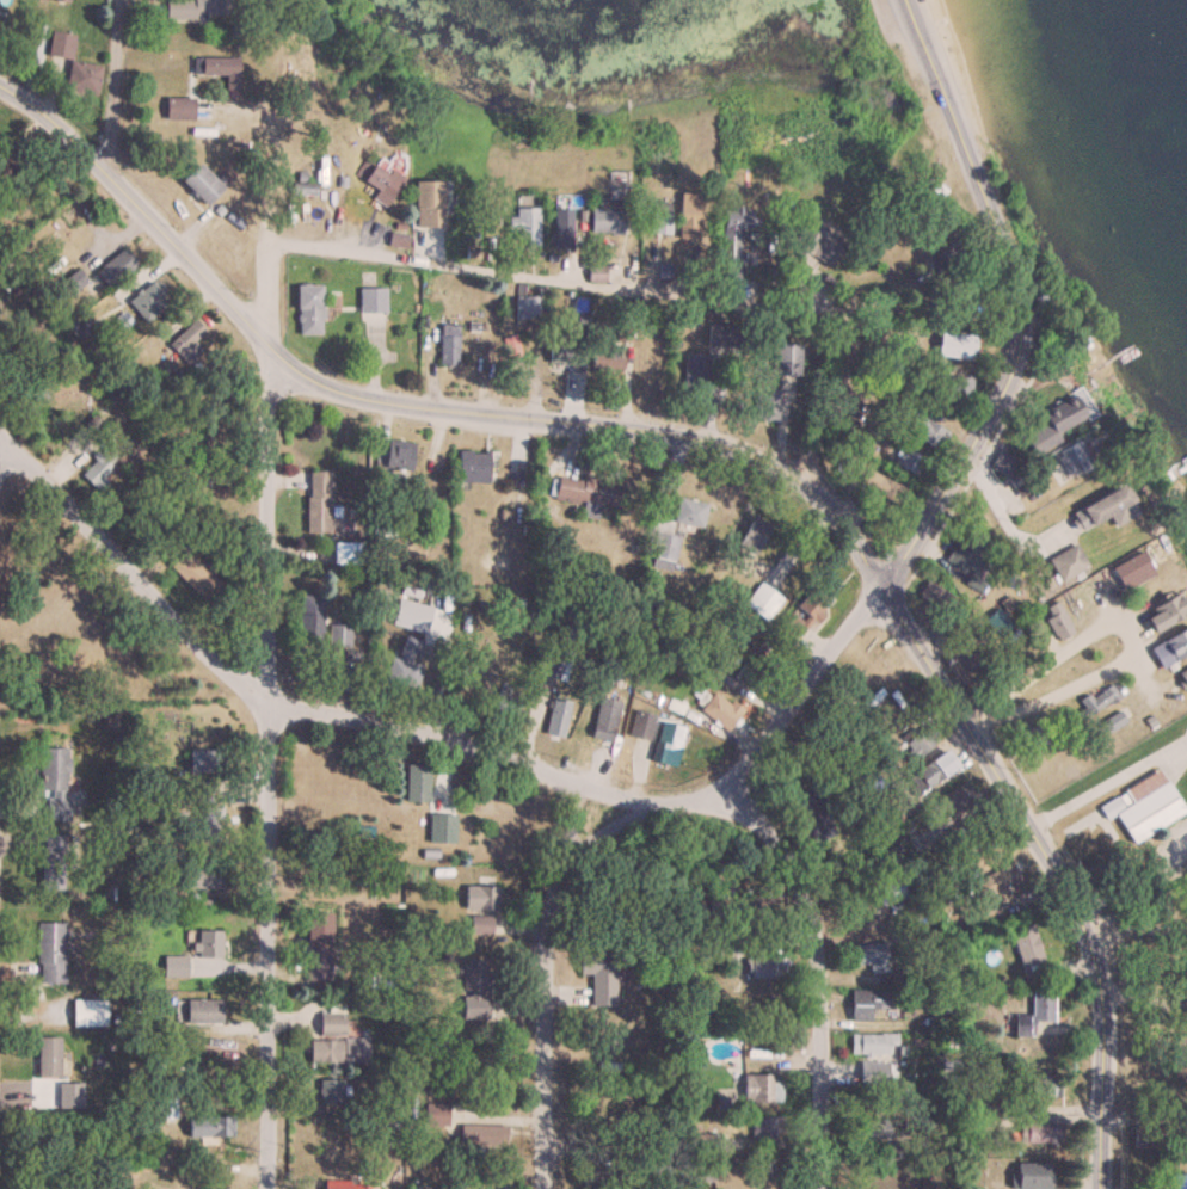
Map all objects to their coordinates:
building: (190, 8)
building: (1, 24)
building: (61, 44)
building: (220, 69)
building: (82, 76)
road: (109, 90)
building: (178, 107)
building: (377, 179)
building: (199, 184)
building: (430, 203)
building: (688, 215)
building: (607, 216)
building: (659, 217)
building: (525, 220)
building: (312, 227)
building: (562, 228)
building: (734, 234)
road: (270, 242)
building: (817, 245)
building: (892, 254)
building: (598, 265)
building: (115, 266)
building: (794, 285)
road: (645, 289)
building: (373, 300)
road: (1016, 300)
building: (147, 302)
building: (528, 308)
building: (309, 310)
building: (623, 332)
building: (725, 334)
building: (187, 343)
building: (448, 345)
building: (953, 345)
building: (512, 346)
building: (571, 353)
building: (605, 353)
building: (788, 359)
building: (694, 380)
building: (959, 390)
building: (765, 403)
road: (412, 405)
building: (1056, 423)
building: (925, 431)
building: (1072, 458)
building: (911, 461)
building: (390, 462)
building: (473, 467)
building: (99, 469)
building: (884, 487)
building: (586, 492)
building: (318, 503)
building: (1103, 506)
building: (689, 512)
road: (1003, 519)
building: (754, 535)
building: (664, 547)
building: (345, 555)
building: (1068, 563)
building: (1130, 572)
road: (131, 573)
building: (193, 575)
building: (762, 602)
building: (802, 612)
building: (1163, 615)
building: (310, 621)
road: (1123, 624)
building: (339, 635)
building: (1169, 649)
building: (406, 663)
building: (752, 672)
building: (1182, 678)
building: (509, 700)
building: (1099, 700)
building: (720, 714)
building: (605, 716)
building: (668, 743)
building: (917, 744)
building: (203, 760)
road: (269, 768)
building: (935, 769)
road: (1107, 780)
building: (54, 783)
building: (417, 783)
road: (623, 797)
building: (957, 800)
building: (1143, 806)
building: (210, 823)
building: (363, 831)
building: (431, 842)
road: (1051, 868)
building: (202, 876)
road: (1140, 881)
building: (994, 883)
building: (888, 891)
building: (481, 898)
building: (479, 924)
building: (208, 943)
building: (1027, 945)
building: (316, 950)
building: (50, 951)
building: (871, 956)
building: (174, 966)
building: (768, 967)
building: (599, 974)
road: (820, 978)
road: (547, 985)
building: (474, 988)
building: (868, 1003)
building: (87, 1012)
building: (201, 1012)
building: (1034, 1015)
building: (332, 1023)
building: (874, 1043)
building: (338, 1051)
building: (48, 1056)
building: (874, 1073)
building: (1039, 1086)
building: (762, 1088)
building: (331, 1091)
building: (164, 1102)
building: (437, 1115)
building: (209, 1127)
building: (767, 1127)
building: (869, 1128)
building: (1039, 1133)
building: (484, 1134)
building: (1146, 1136)
building: (1031, 1176)
building: (588, 1179)
building: (1177, 1184)
building: (349, 1185)

